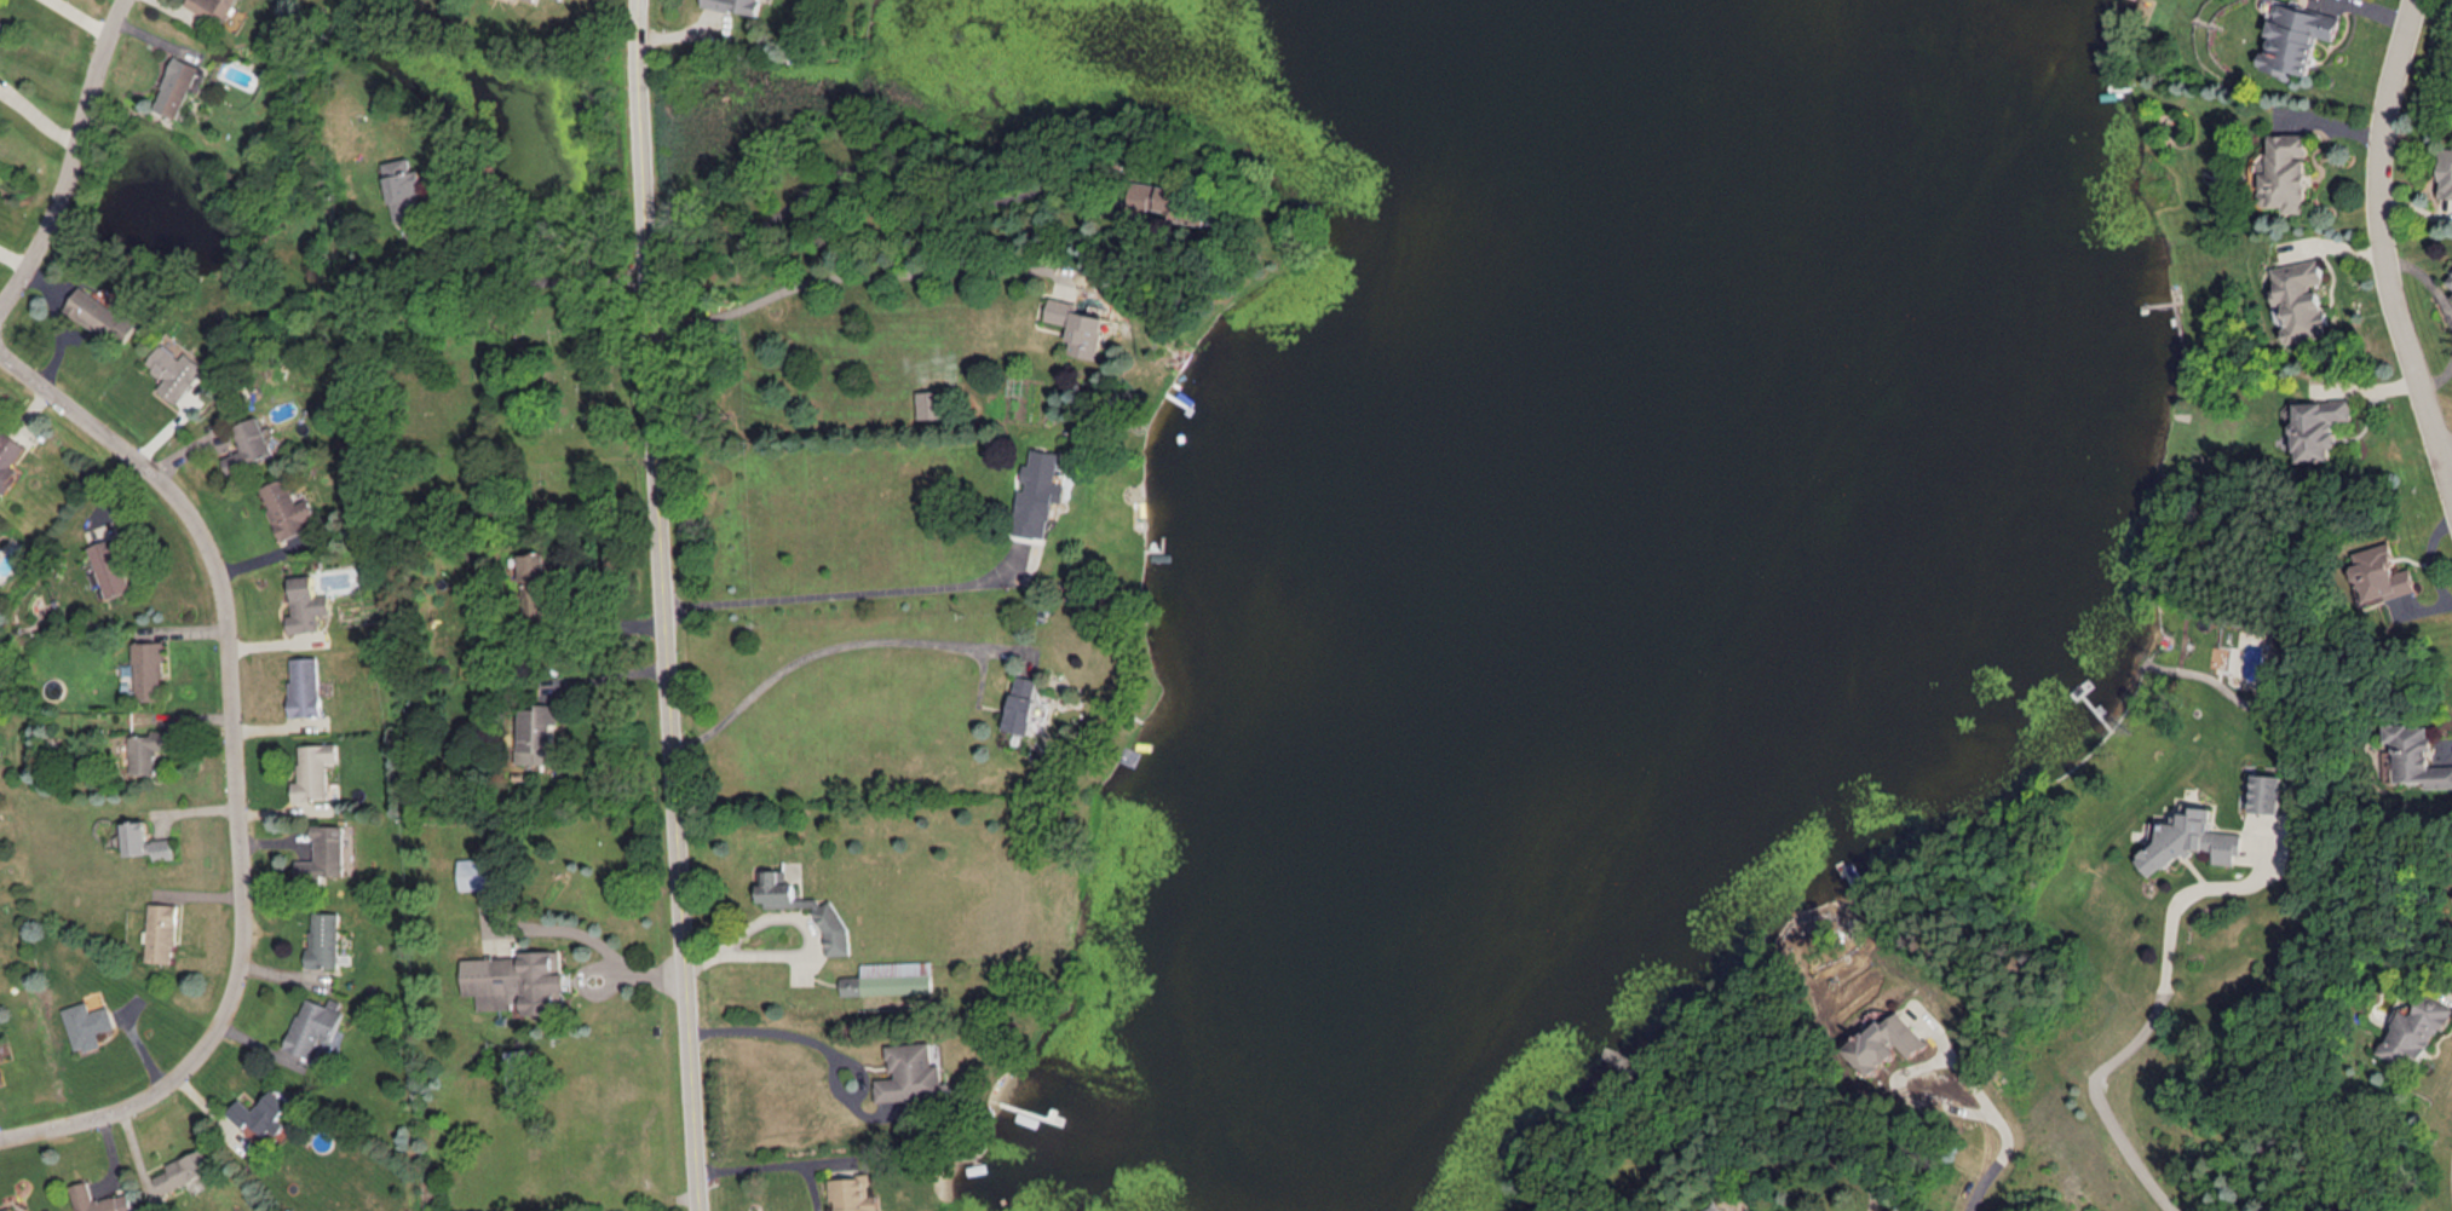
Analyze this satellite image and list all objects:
building: (535, 0)
building: (737, 5)
building: (214, 8)
building: (2300, 38)
building: (178, 85)
road: (80, 166)
building: (2286, 172)
building: (2446, 172)
building: (405, 189)
road: (2381, 252)
road: (842, 272)
road: (2424, 273)
building: (2450, 279)
road: (525, 282)
building: (2298, 300)
building: (102, 315)
building: (1082, 327)
building: (175, 370)
road: (2436, 371)
building: (933, 403)
park: (513, 414)
building: (2319, 426)
building: (251, 444)
building: (8, 459)
road: (2446, 460)
building: (1041, 492)
building: (288, 507)
road: (2431, 557)
building: (110, 566)
building: (2381, 573)
building: (536, 583)
road: (853, 590)
building: (307, 604)
road: (666, 605)
road: (822, 648)
building: (149, 670)
building: (305, 685)
building: (1025, 704)
building: (539, 732)
building: (148, 750)
building: (2417, 754)
building: (313, 769)
road: (242, 771)
building: (2268, 792)
building: (2192, 840)
building: (145, 841)
building: (324, 852)
building: (479, 872)
building: (827, 909)
building: (161, 932)
building: (324, 939)
road: (587, 945)
building: (892, 978)
building: (518, 980)
road: (2152, 1017)
building: (86, 1023)
building: (312, 1026)
road: (770, 1026)
building: (2419, 1030)
building: (1889, 1043)
building: (519, 1069)
road: (1911, 1072)
building: (914, 1073)
building: (261, 1113)
road: (1998, 1164)
road: (770, 1167)
building: (183, 1170)
building: (856, 1194)
building: (100, 1199)
building: (1719, 1207)
building: (7, 1209)

